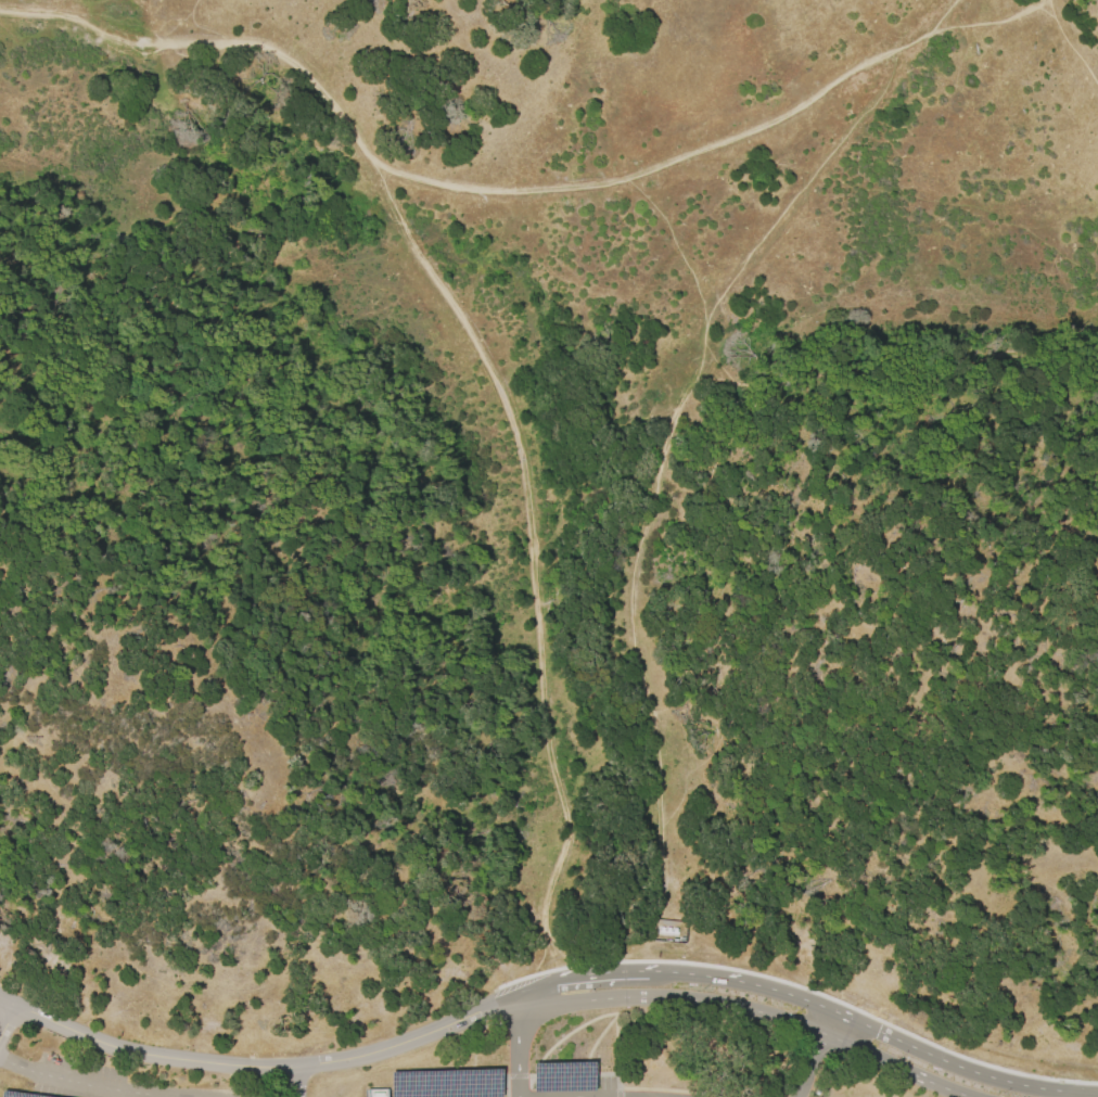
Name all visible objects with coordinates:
road: (991, 24)
road: (1071, 46)
road: (473, 189)
road: (662, 476)
road: (529, 560)
road: (663, 971)
road: (582, 977)
road: (755, 985)
road: (674, 998)
road: (484, 1009)
road: (5, 1015)
road: (854, 1021)
road: (827, 1022)
road: (520, 1048)
parking lot: (41, 1059)
road: (221, 1064)
road: (810, 1066)
road: (894, 1067)
road: (516, 1073)
road: (979, 1074)
road: (294, 1082)
road: (627, 1084)
road: (506, 1085)
road: (618, 1085)
road: (113, 1086)
parking lot: (596, 1087)
road: (618, 1092)
road: (1093, 1094)
road: (1086, 1095)
road: (604, 1096)

